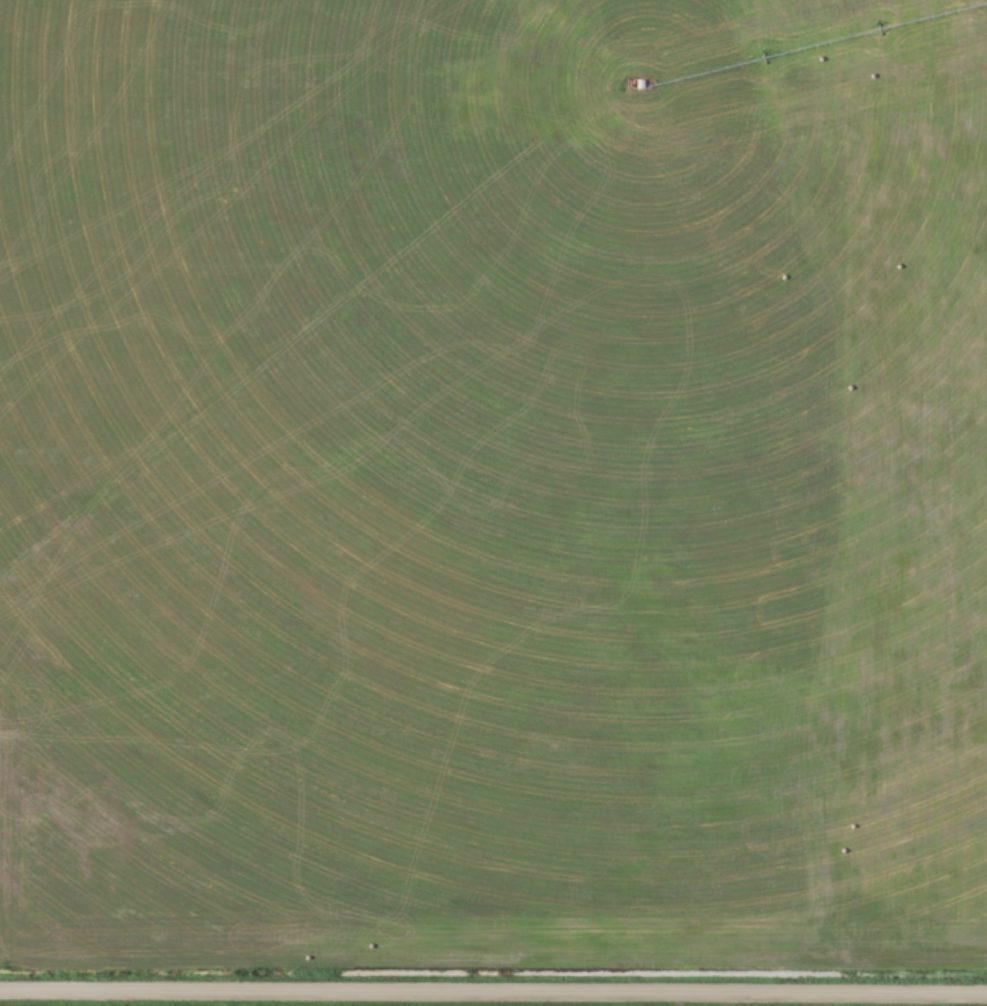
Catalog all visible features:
road: (493, 992)

